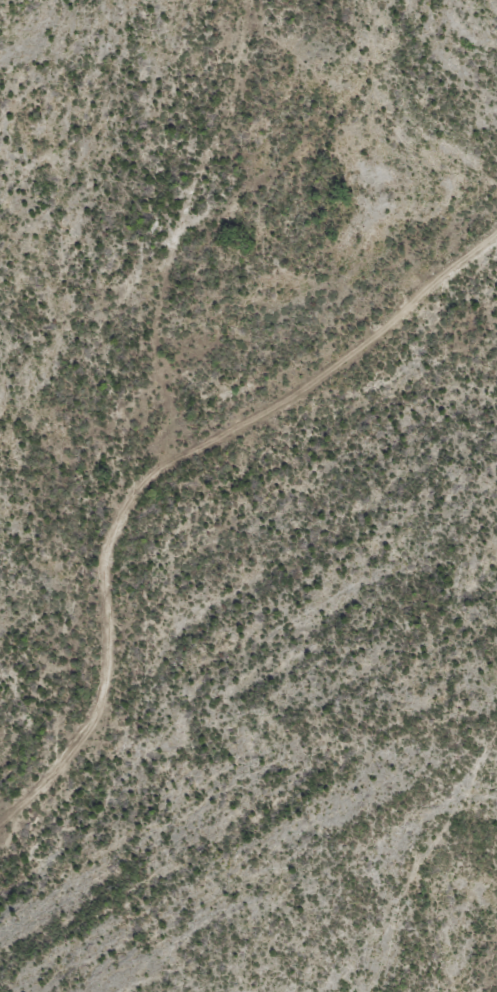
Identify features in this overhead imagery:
road: (134, 381)
road: (424, 835)

